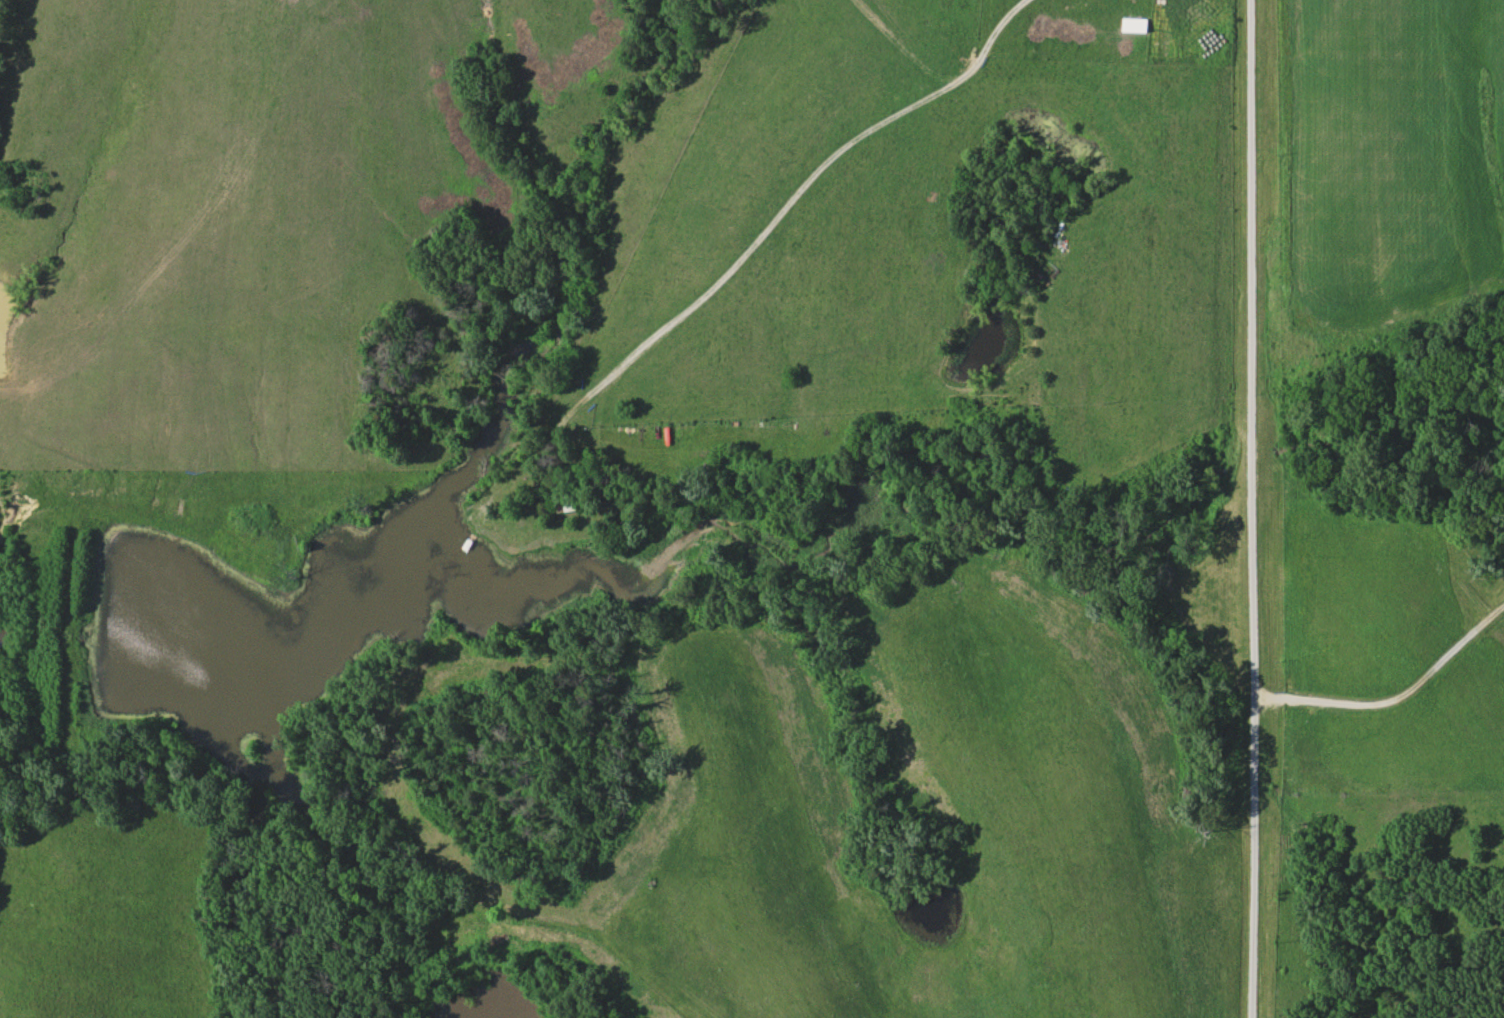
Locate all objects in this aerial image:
road: (1252, 509)

